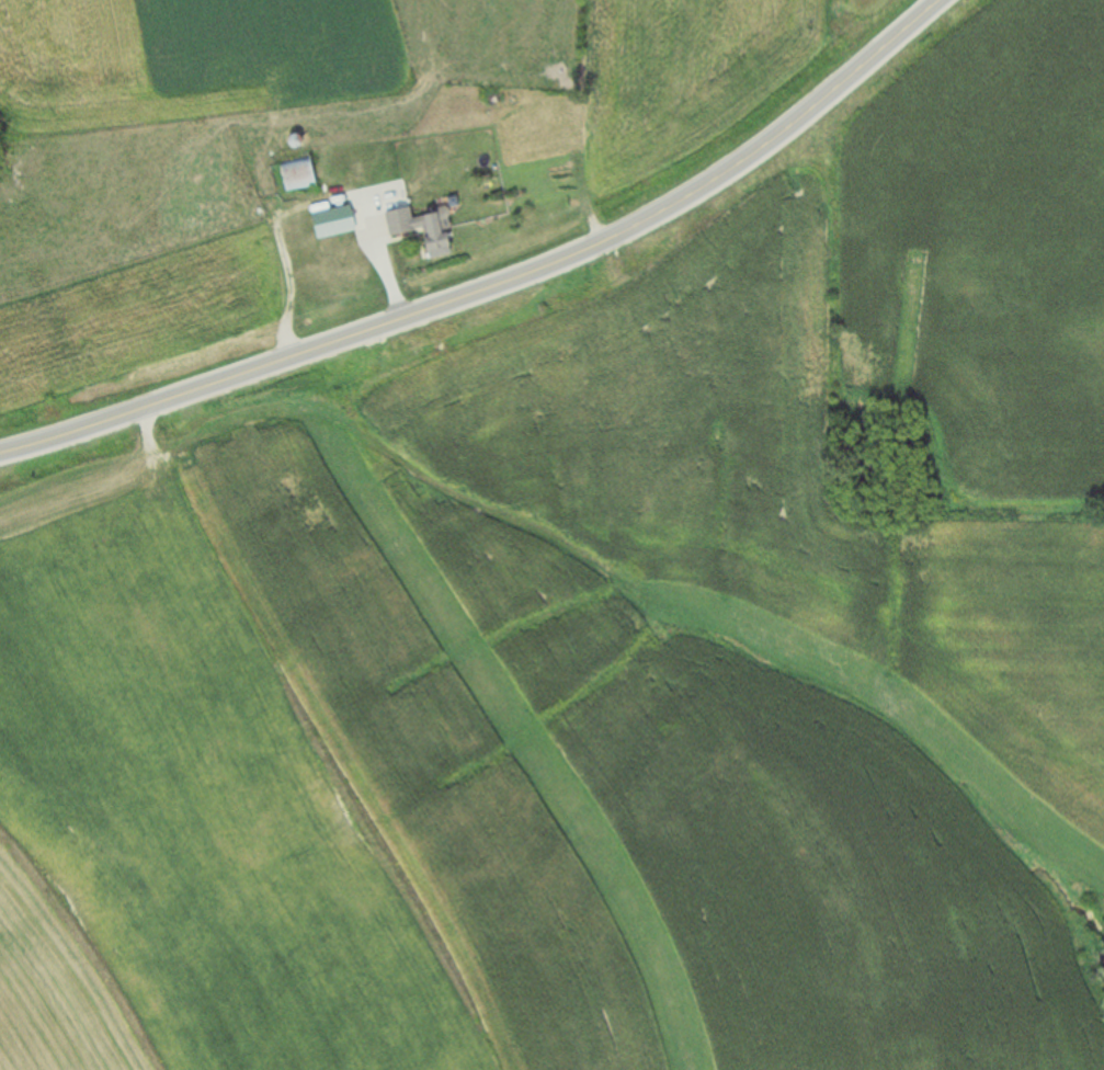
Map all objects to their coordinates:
building: (353, 132)
building: (388, 174)
building: (293, 175)
building: (319, 227)
building: (419, 229)
road: (477, 287)

